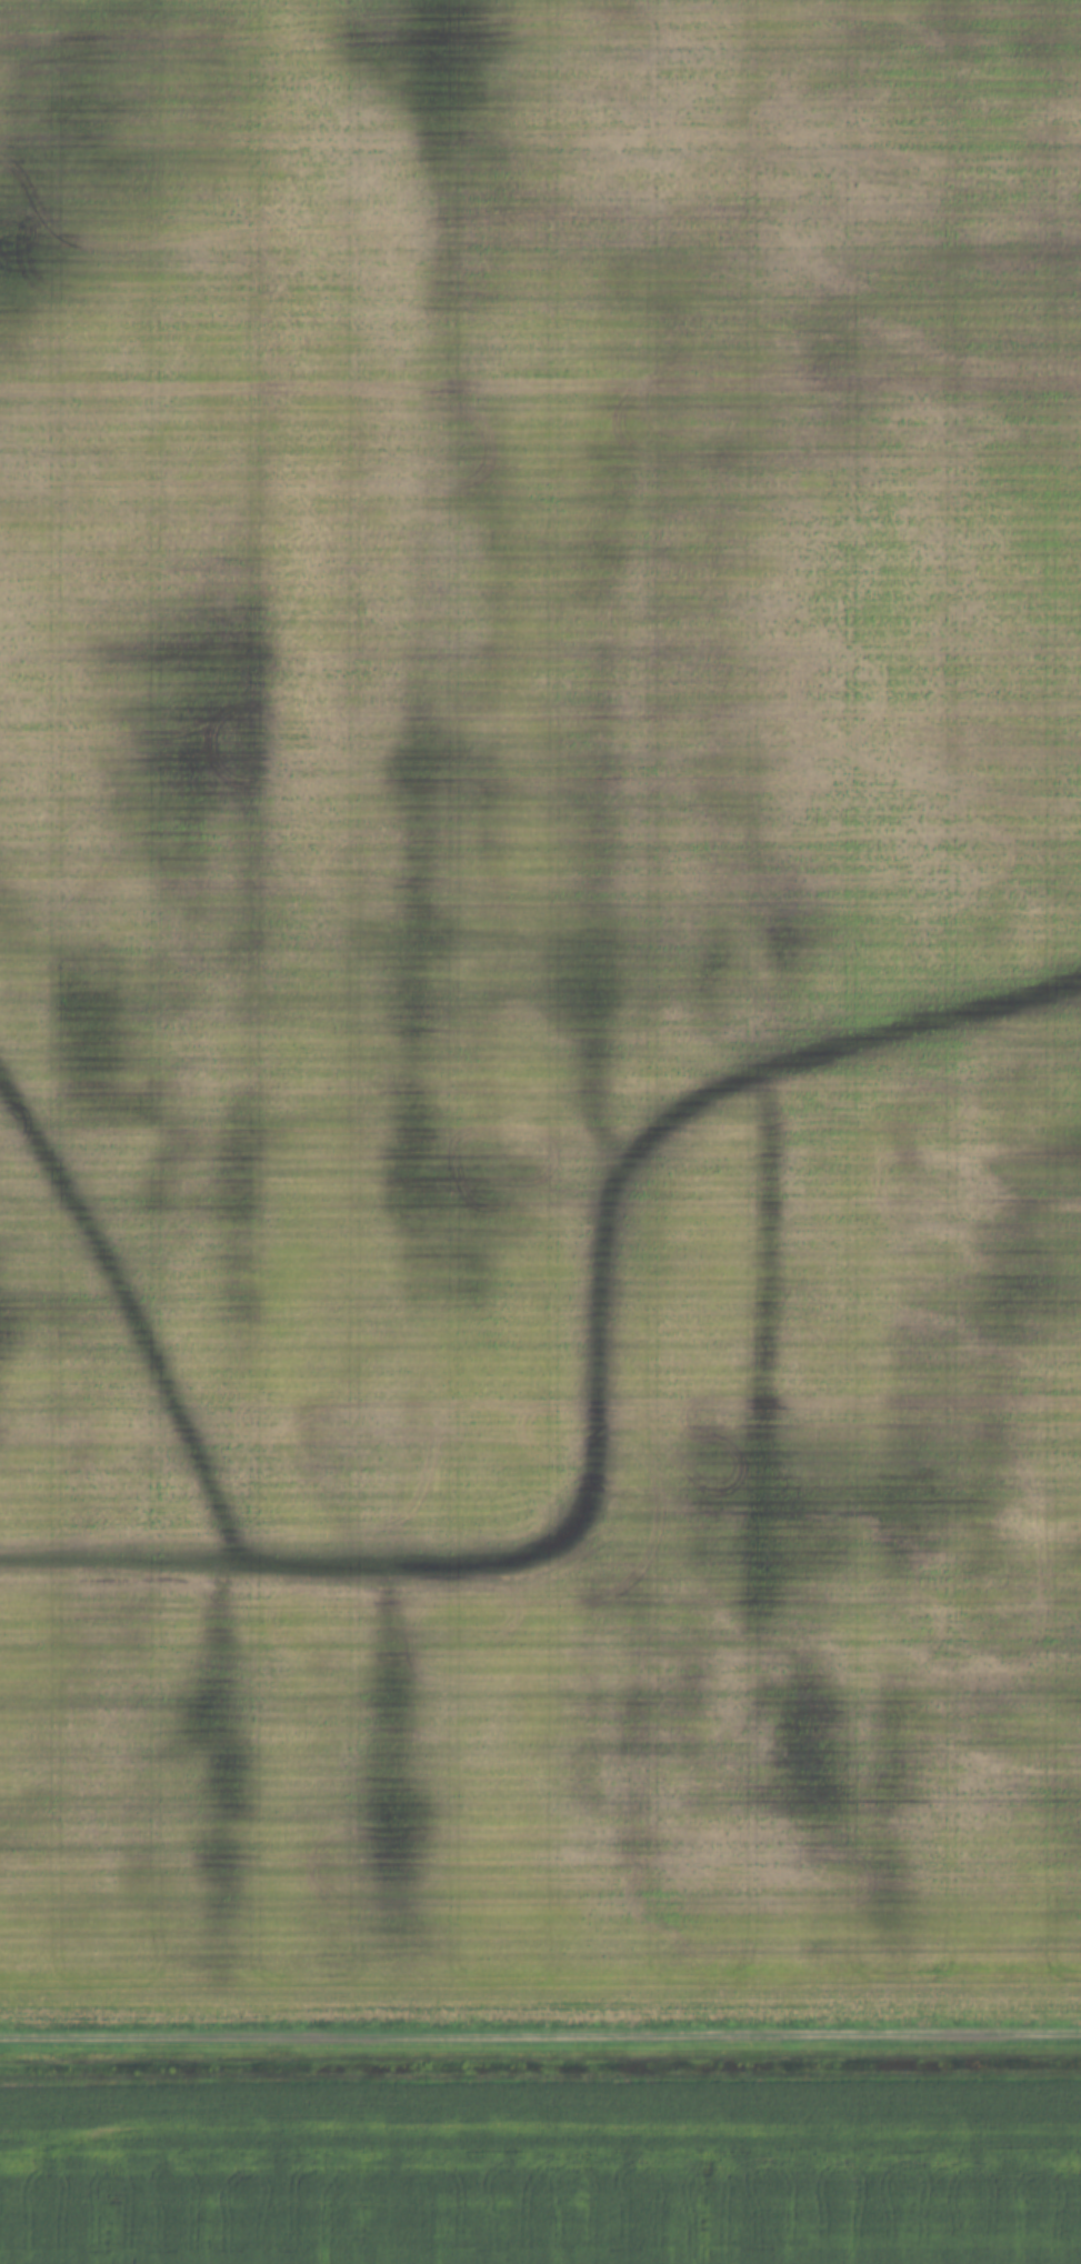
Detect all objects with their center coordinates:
crop: (540, 1010)
road: (540, 2037)
crop: (545, 2174)

